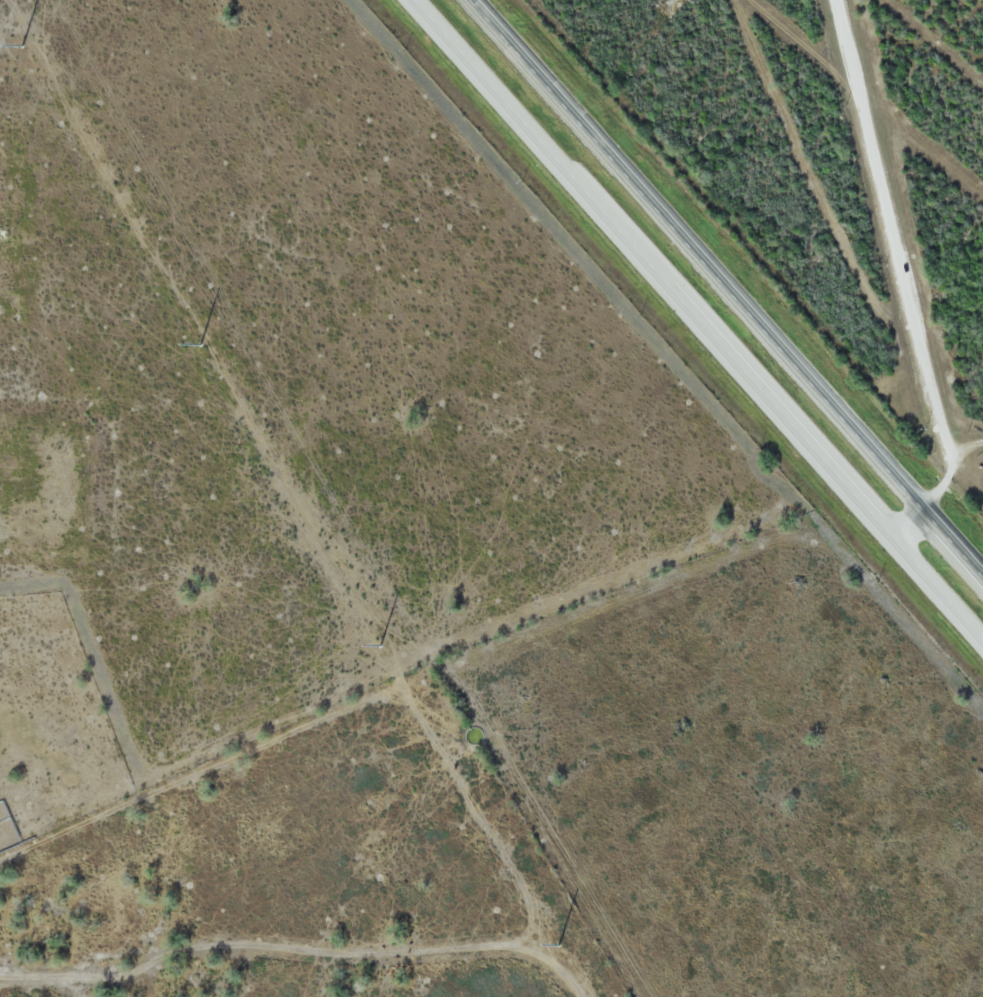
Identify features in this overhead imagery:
power tower: (22, 47)
road: (731, 283)
road: (697, 321)
power tower: (201, 345)
building: (16, 478)
power tower: (380, 647)
power tower: (558, 947)

